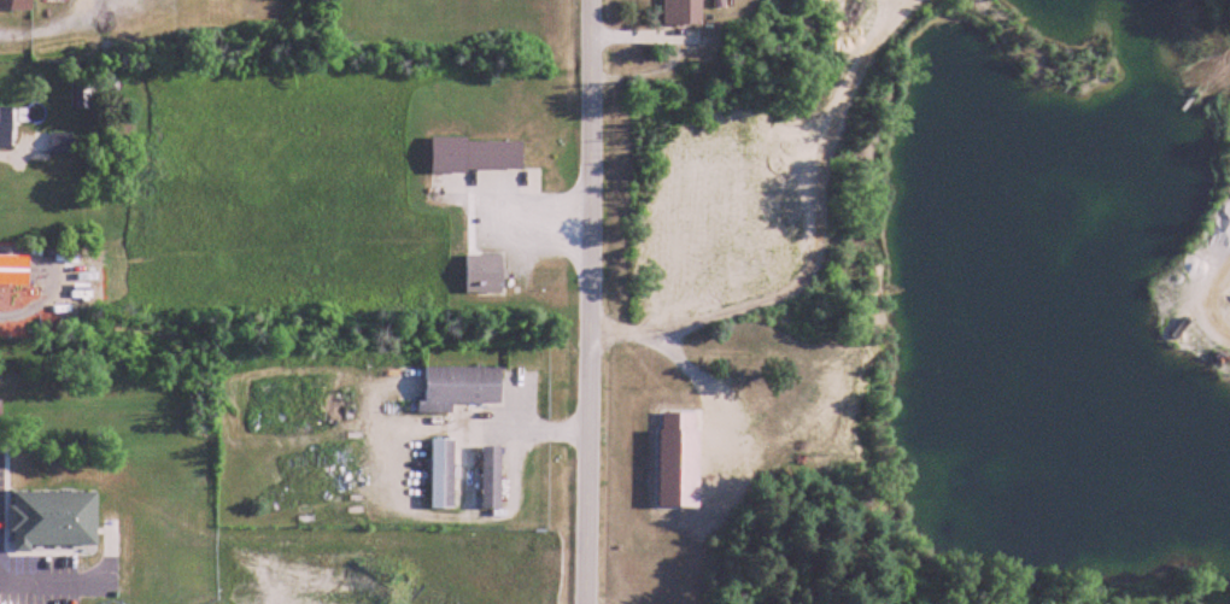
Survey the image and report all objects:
building: (17, 5)
building: (684, 12)
road: (57, 30)
building: (81, 96)
building: (6, 125)
building: (61, 143)
building: (478, 156)
building: (14, 271)
building: (485, 275)
road: (586, 301)
building: (464, 389)
building: (444, 475)
building: (493, 479)

